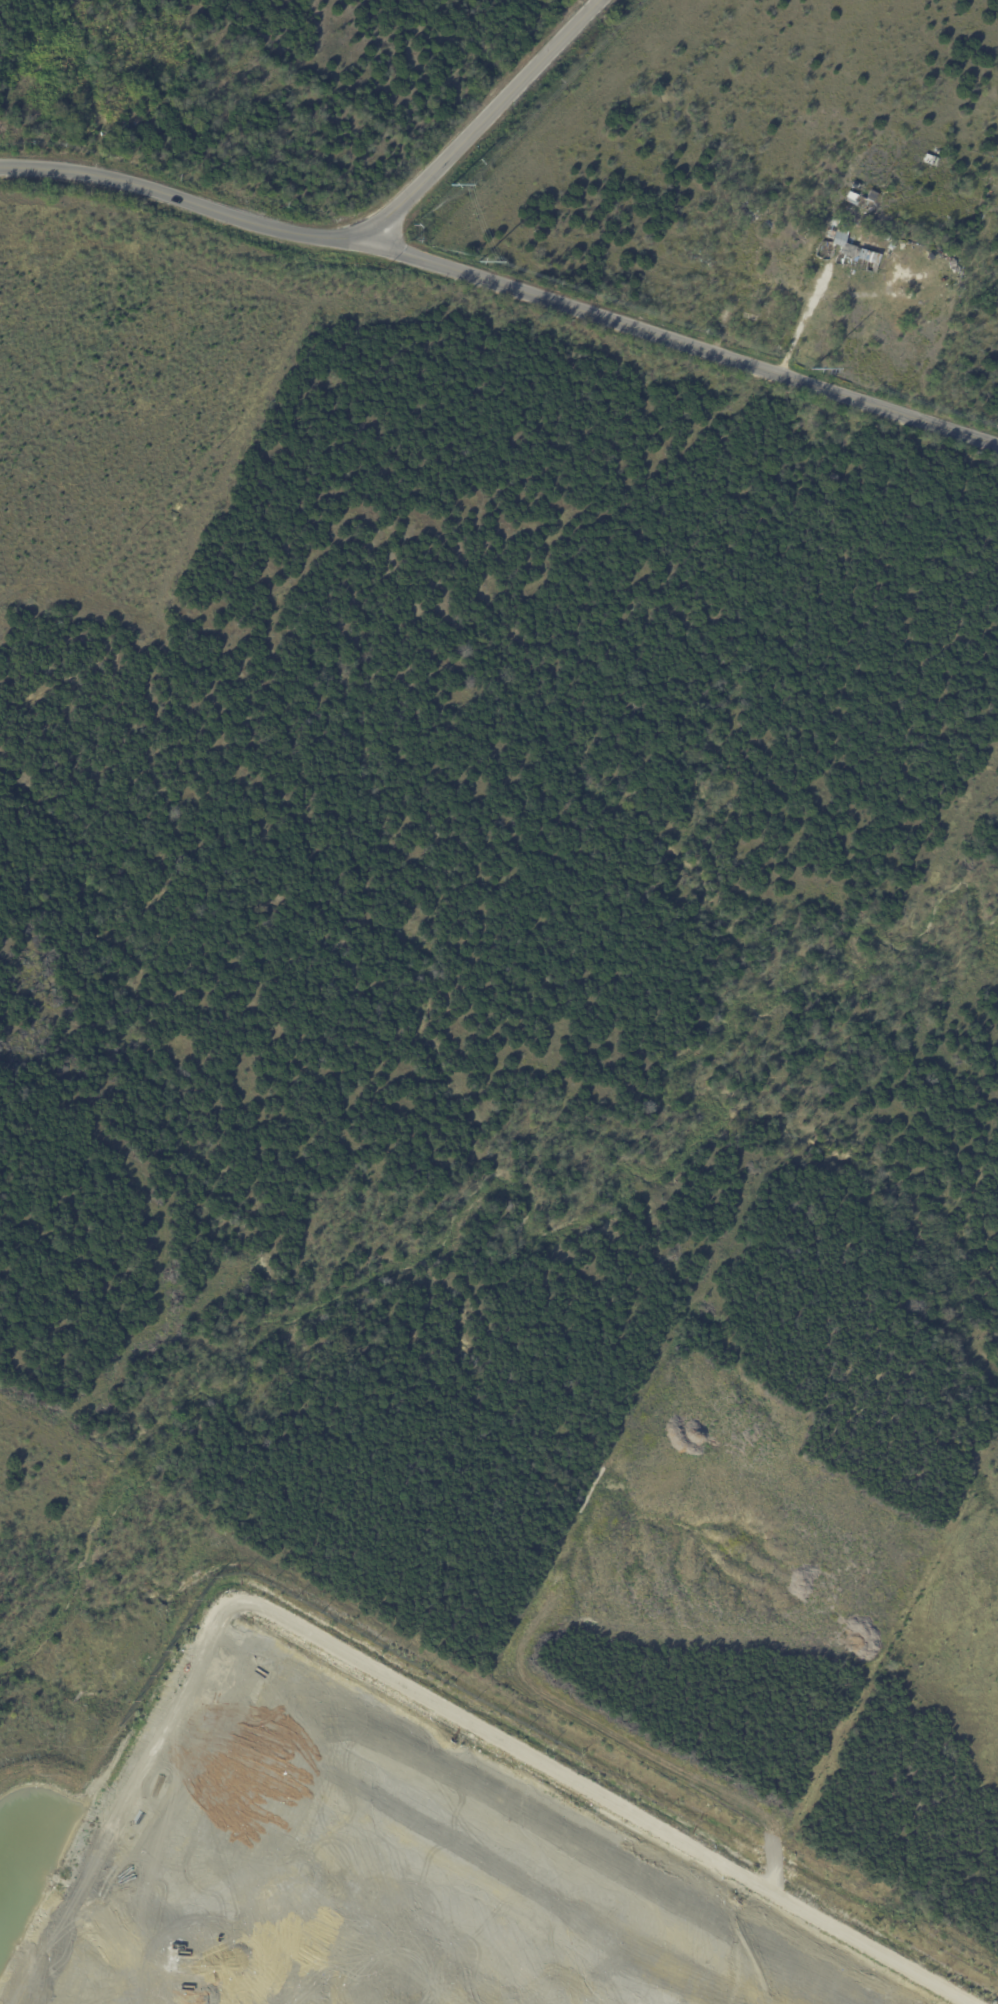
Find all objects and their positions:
road: (478, 121)
building: (929, 162)
building: (864, 200)
building: (881, 236)
building: (850, 250)
road: (503, 287)
road: (807, 322)
landfill: (380, 1853)

